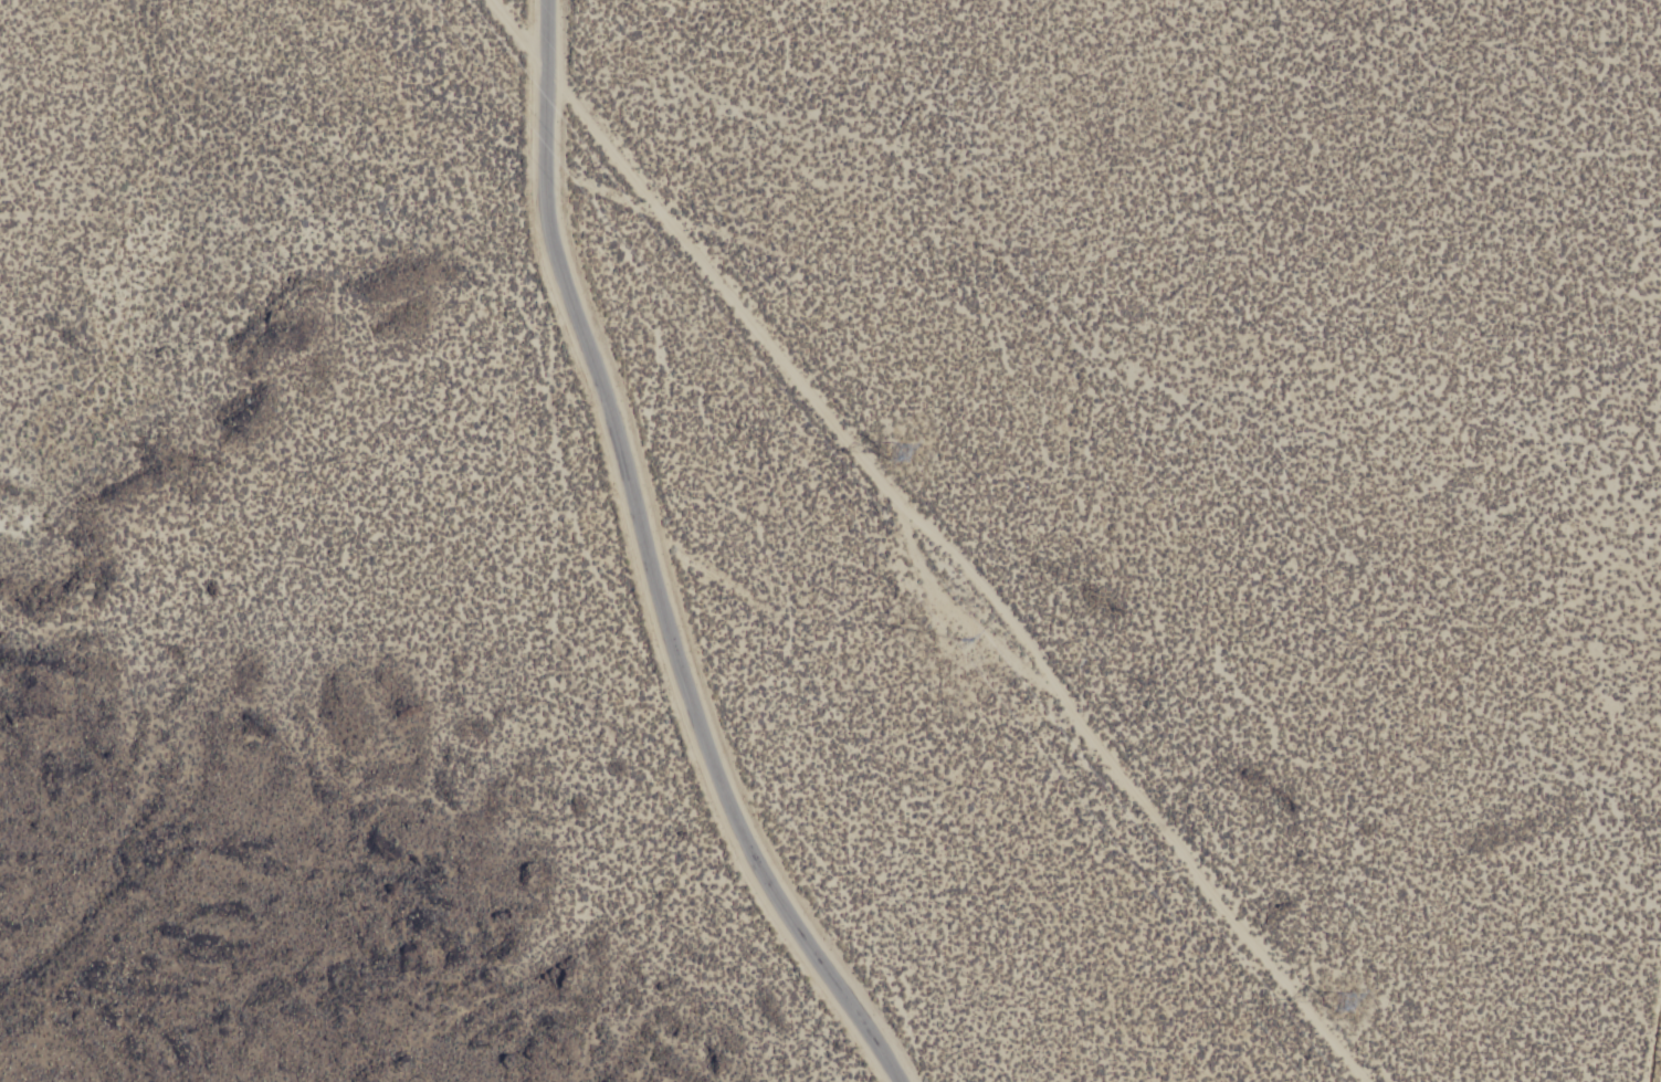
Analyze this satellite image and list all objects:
power tower: (900, 441)
road: (935, 537)
road: (659, 563)
power tower: (979, 665)
power tower: (1333, 983)

